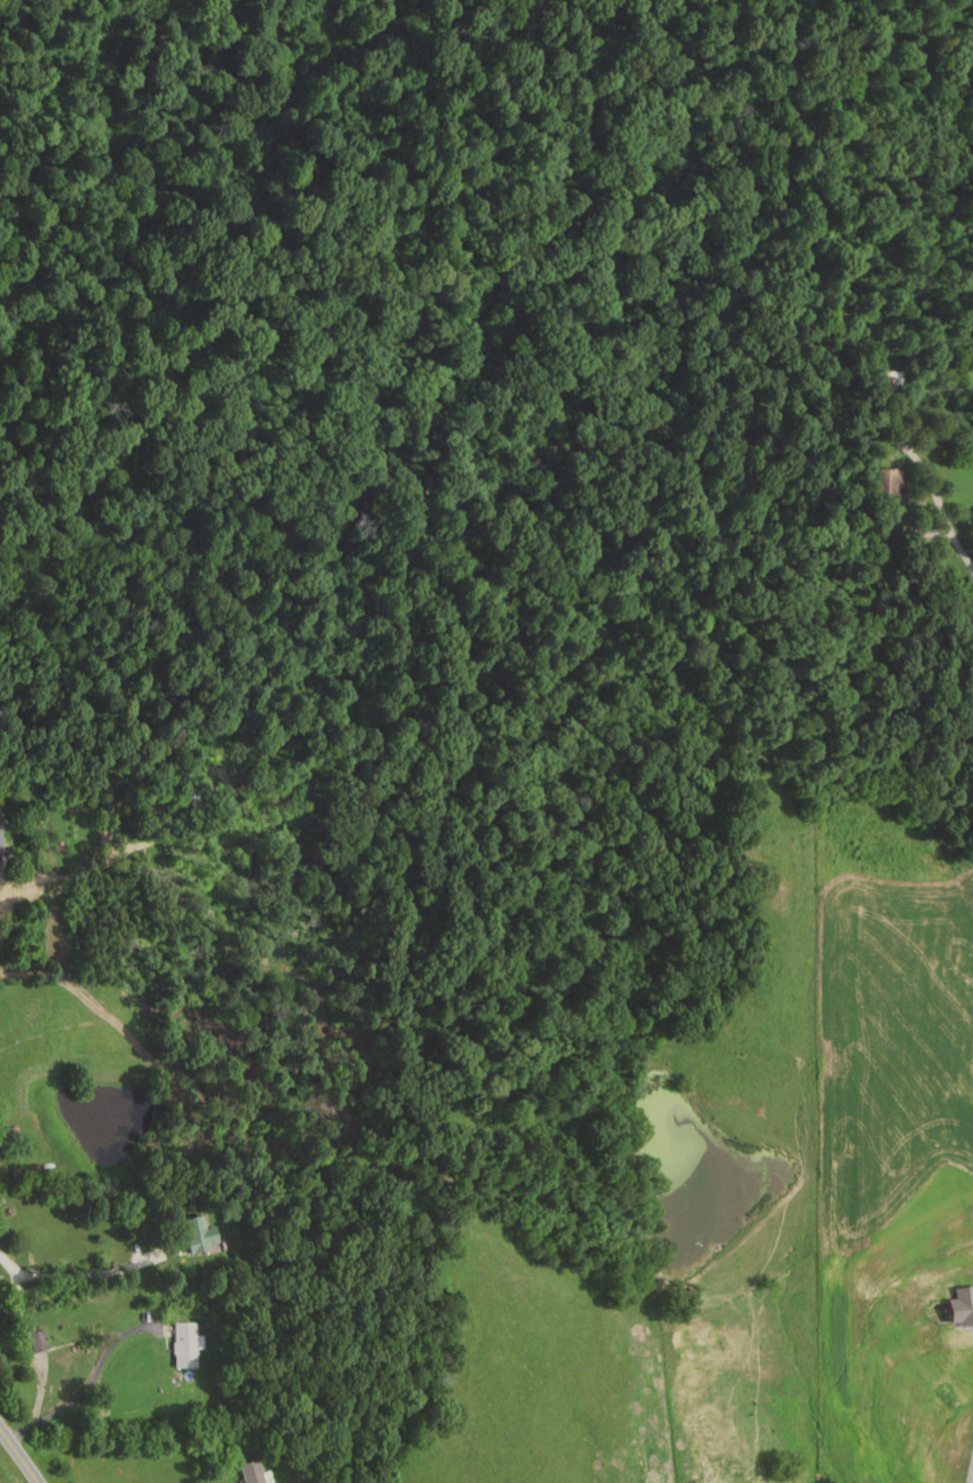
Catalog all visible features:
building: (887, 481)
road: (953, 547)
building: (200, 1234)
road: (210, 1249)
building: (39, 1340)
building: (185, 1344)
road: (18, 1456)
road: (969, 1463)
building: (254, 1473)

